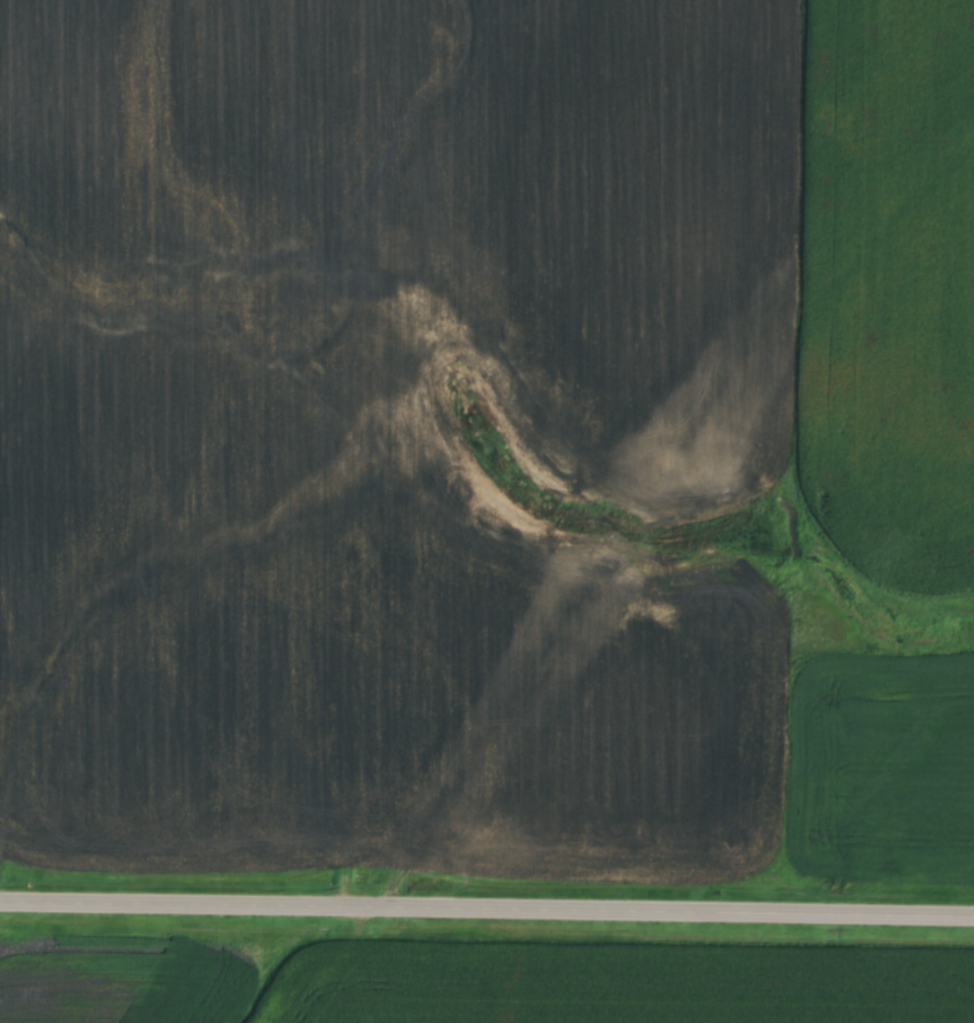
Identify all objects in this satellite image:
road: (487, 917)

